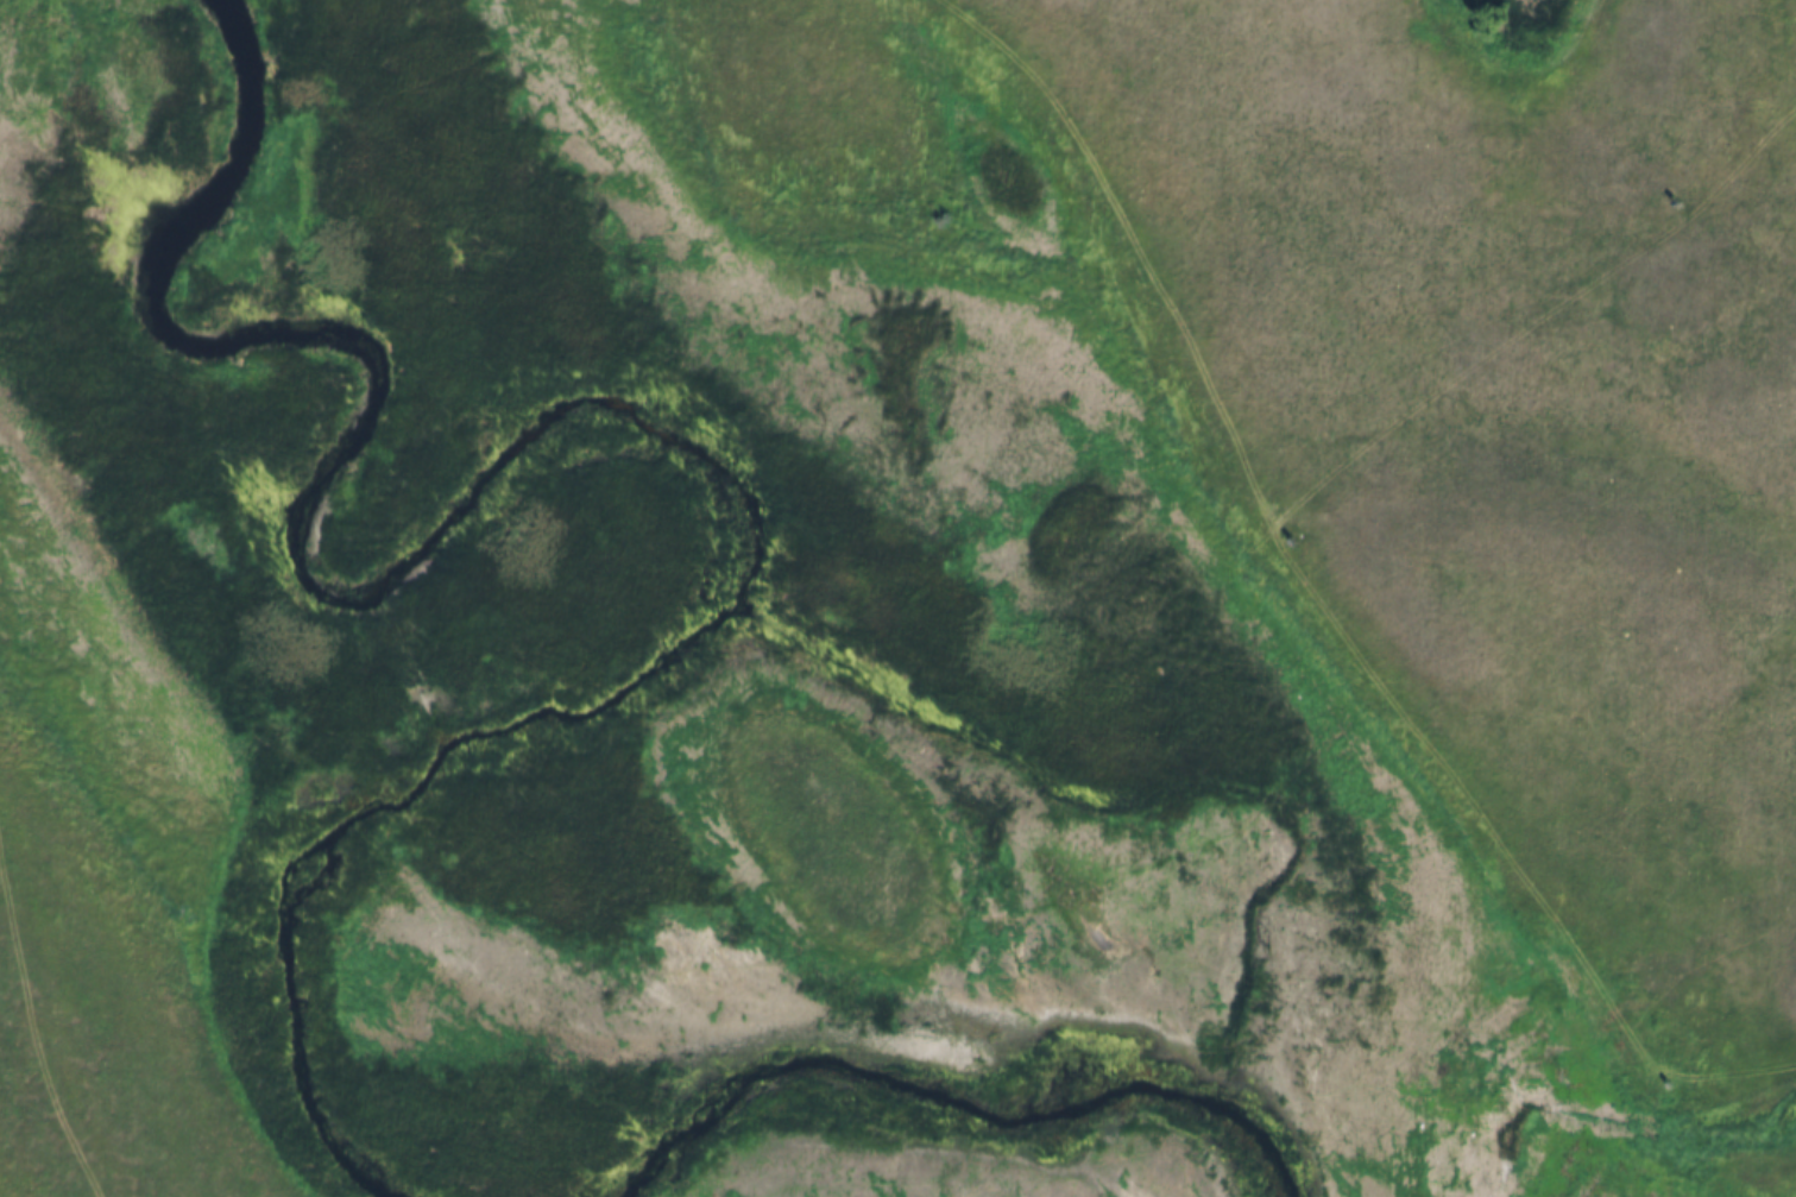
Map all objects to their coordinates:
river: (598, 395)
river: (940, 1056)

